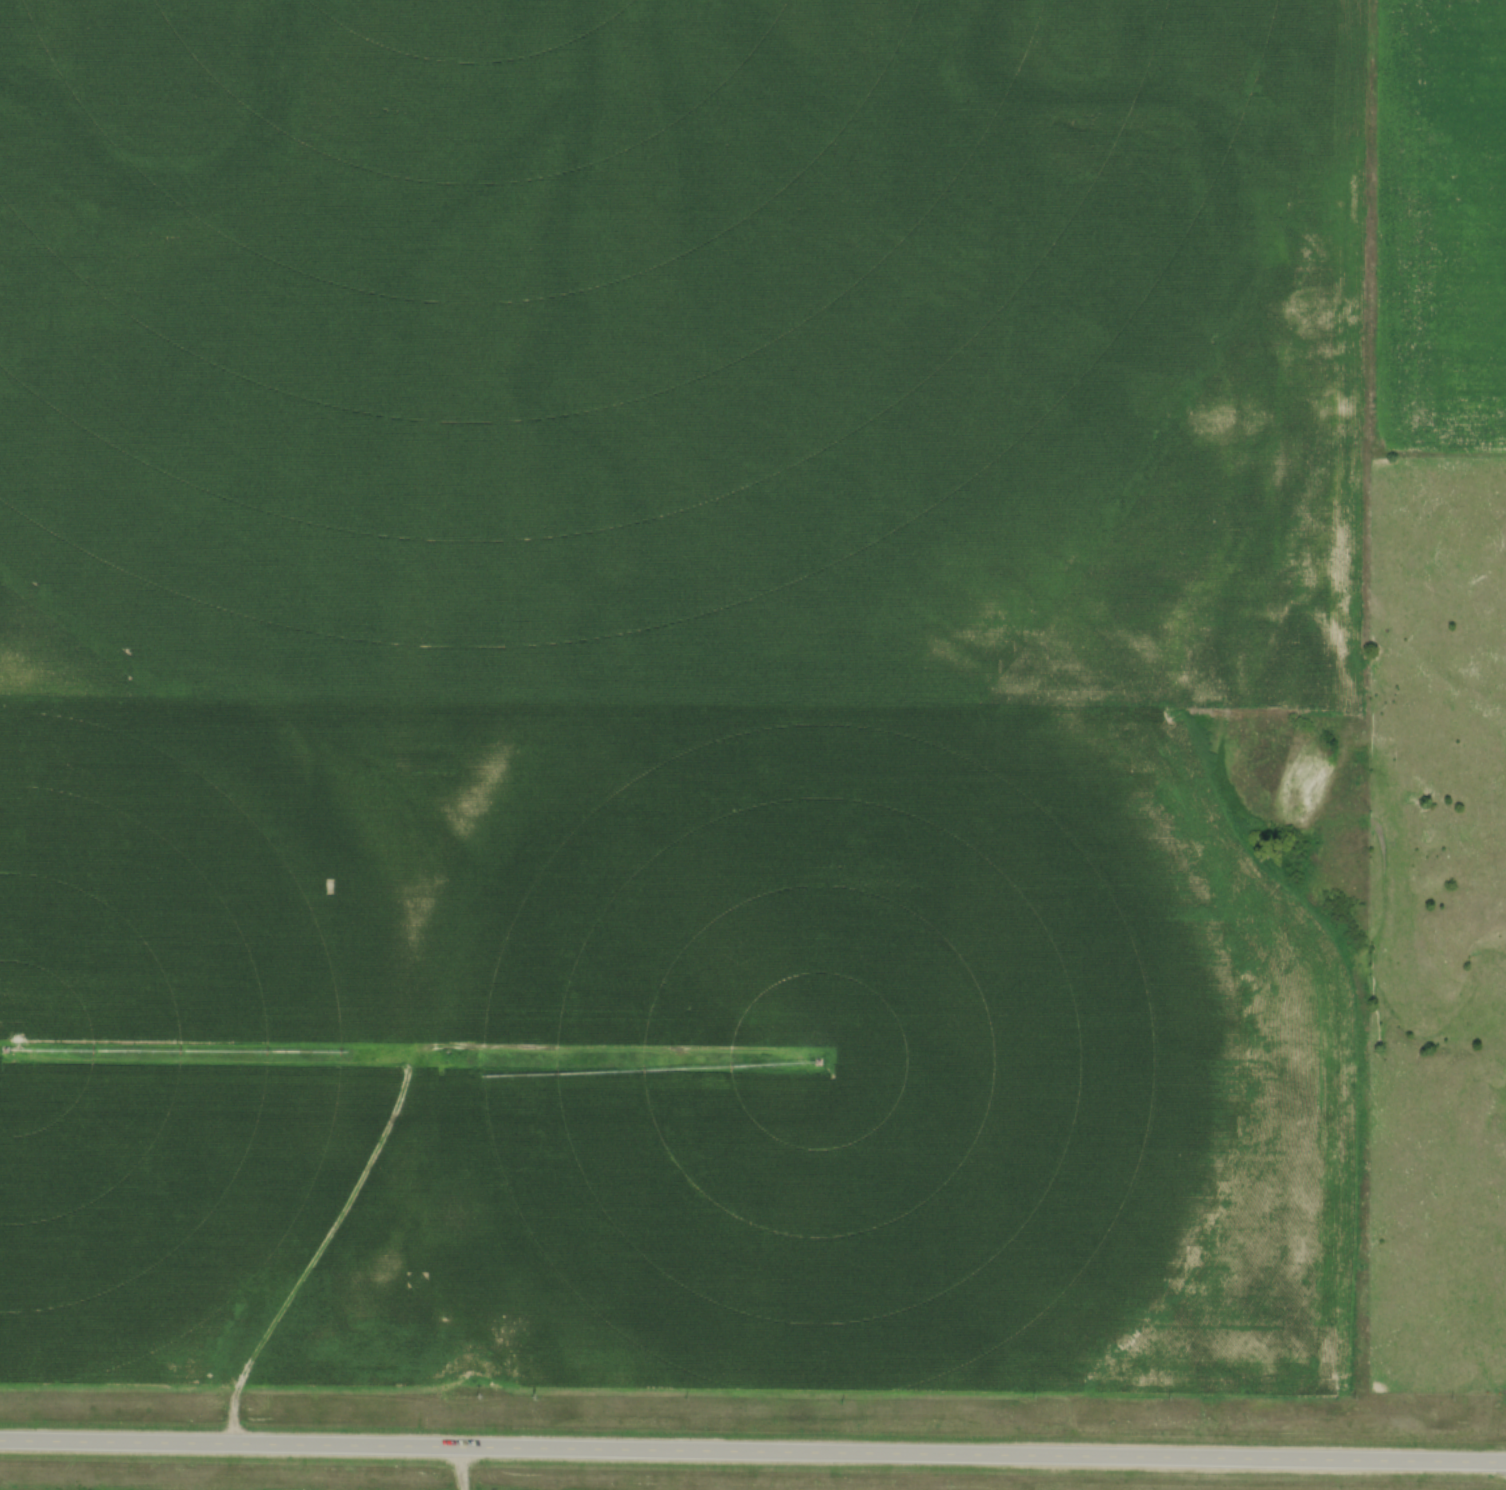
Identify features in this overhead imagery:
road: (752, 1452)

